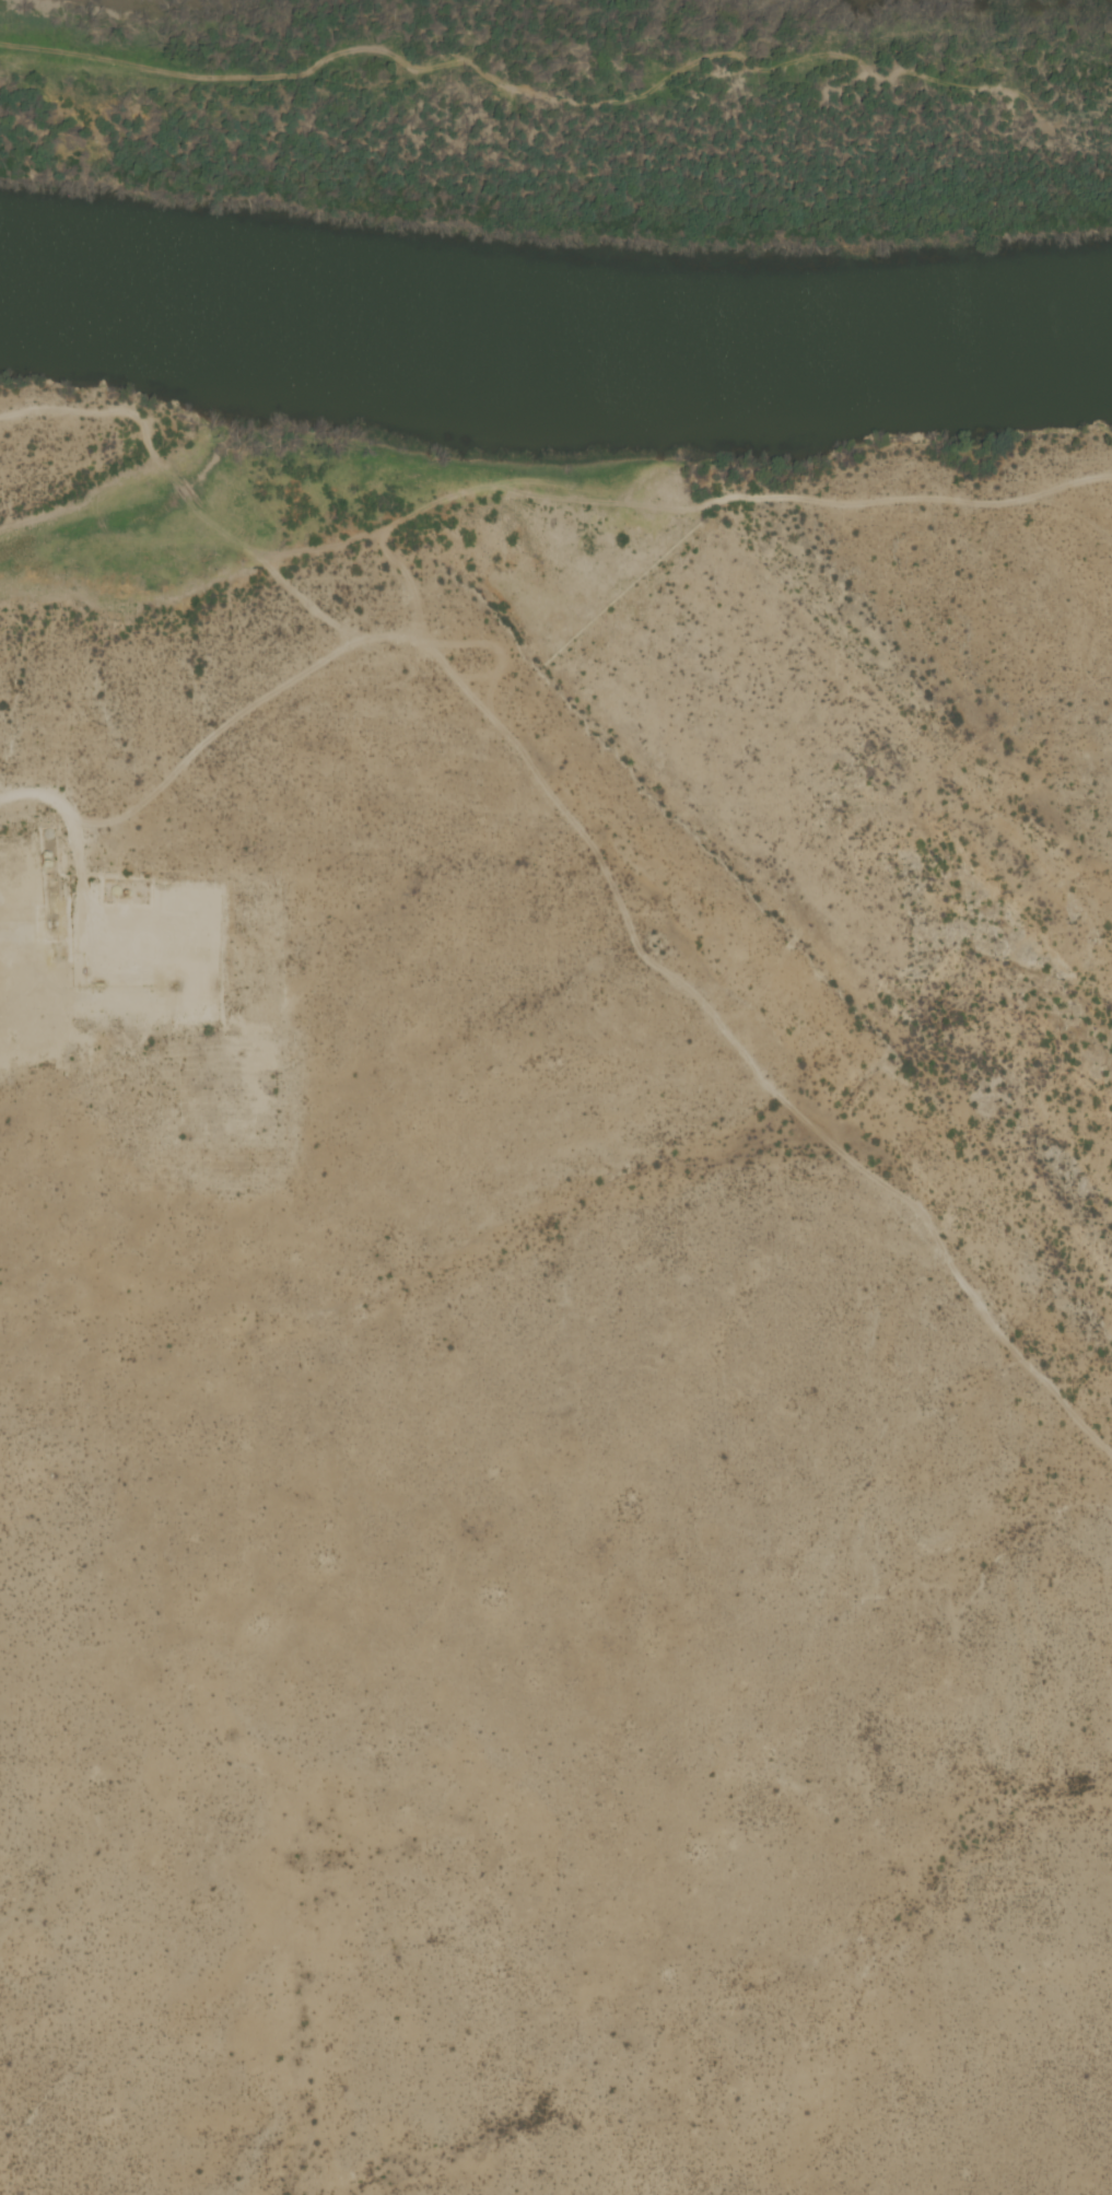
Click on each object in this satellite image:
river: (554, 326)
road: (96, 410)
road: (43, 820)
road: (140, 1003)

